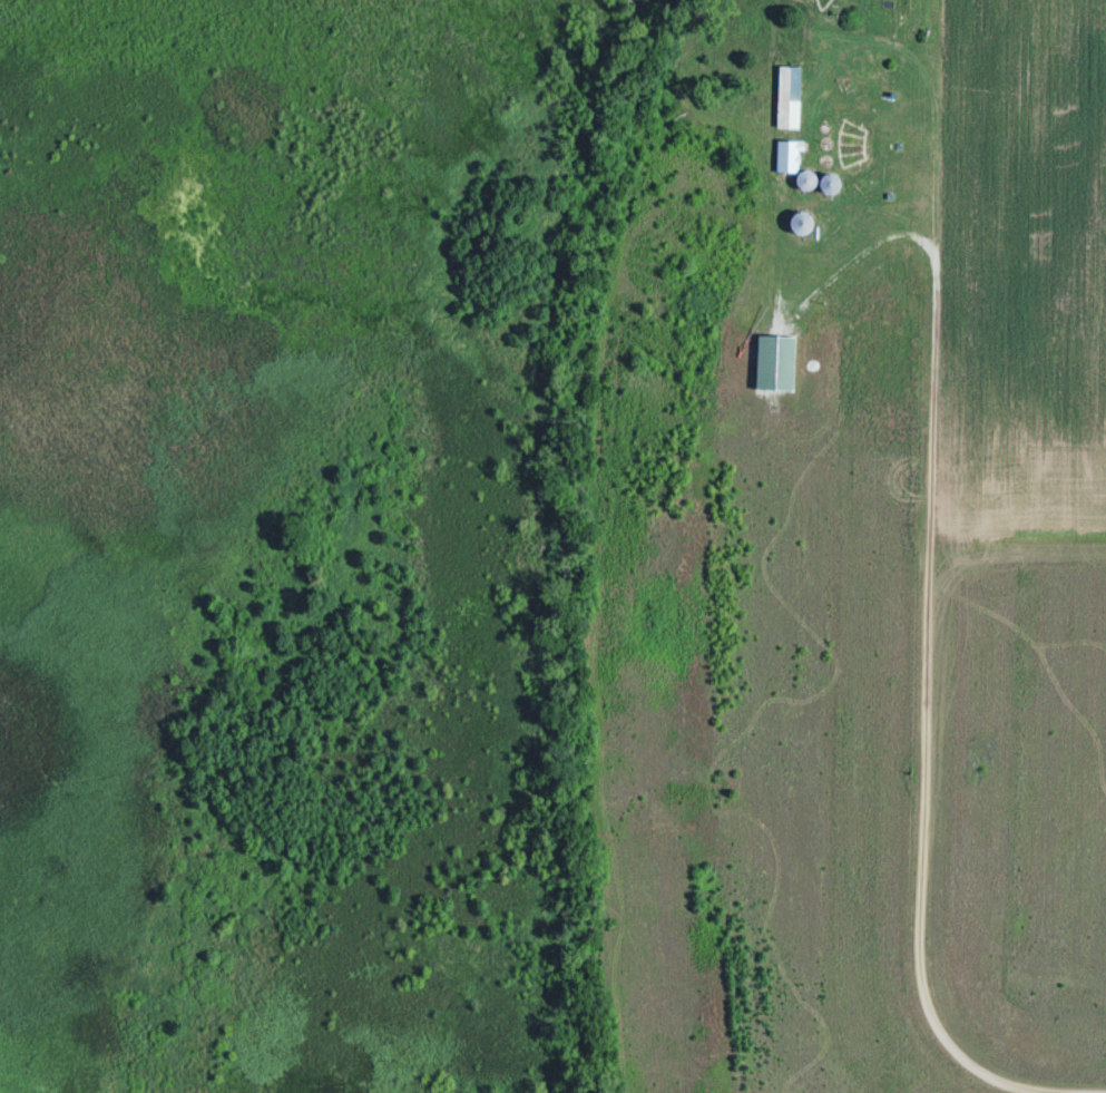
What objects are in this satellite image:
building: (789, 94)
building: (787, 157)
building: (799, 219)
building: (774, 360)

